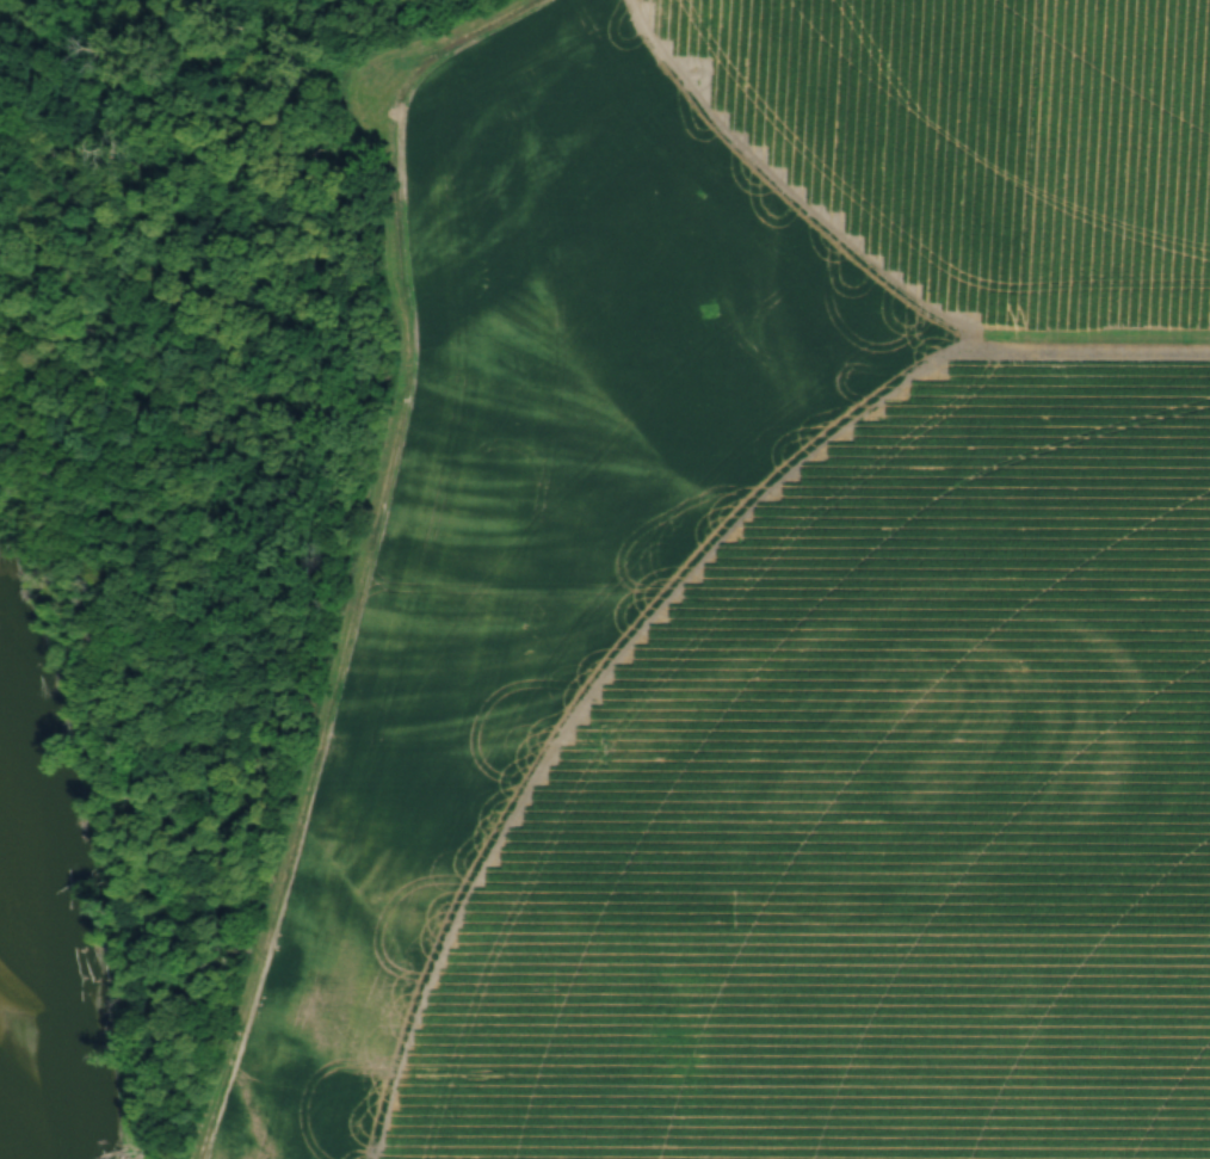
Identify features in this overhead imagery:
river: (4, 1140)

